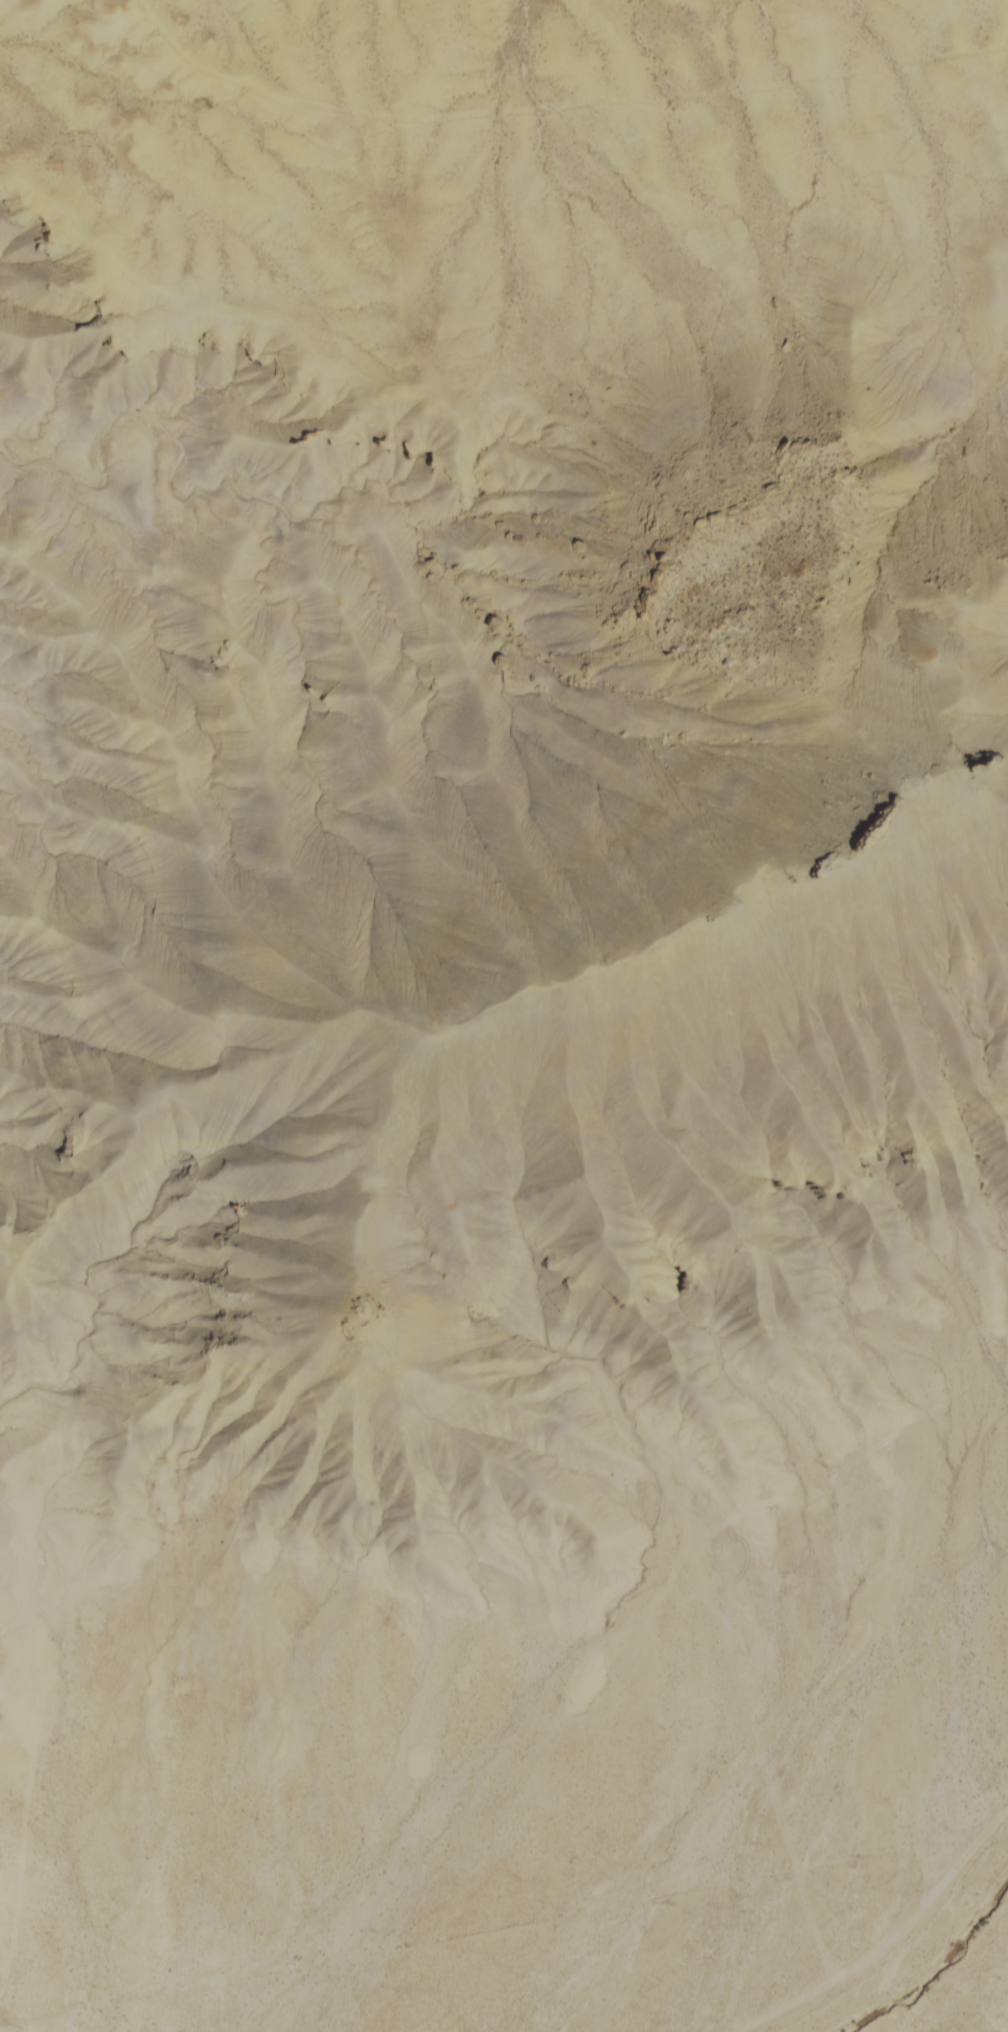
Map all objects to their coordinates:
road: (960, 1999)

